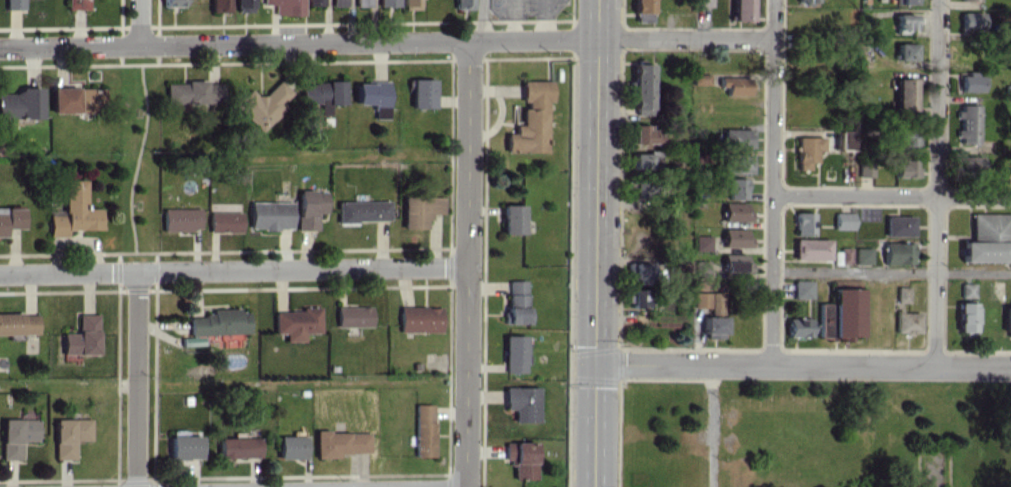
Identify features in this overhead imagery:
building: (970, 0)
building: (805, 1)
building: (905, 1)
building: (315, 2)
building: (339, 2)
building: (362, 2)
building: (173, 3)
building: (388, 3)
building: (703, 3)
building: (14, 4)
building: (77, 4)
building: (410, 4)
building: (463, 4)
building: (243, 5)
building: (220, 6)
building: (287, 6)
building: (642, 6)
building: (741, 10)
road: (481, 20)
building: (971, 20)
building: (904, 21)
road: (139, 23)
road: (686, 38)
road: (299, 43)
building: (905, 51)
building: (701, 79)
building: (970, 82)
building: (735, 85)
building: (642, 89)
building: (194, 92)
building: (422, 93)
building: (322, 94)
building: (904, 94)
building: (373, 96)
building: (76, 99)
building: (20, 104)
building: (263, 104)
building: (530, 119)
building: (967, 123)
building: (643, 134)
road: (772, 135)
building: (904, 136)
building: (737, 138)
building: (844, 139)
building: (807, 150)
road: (137, 158)
building: (645, 160)
building: (738, 163)
building: (971, 164)
building: (865, 168)
building: (905, 168)
road: (936, 182)
building: (736, 188)
road: (891, 195)
building: (310, 208)
building: (419, 210)
building: (74, 211)
building: (362, 211)
building: (735, 212)
building: (270, 215)
building: (10, 219)
building: (181, 219)
building: (511, 219)
building: (843, 220)
building: (224, 221)
building: (804, 223)
building: (899, 225)
building: (990, 225)
building: (735, 238)
road: (597, 243)
building: (702, 243)
building: (811, 249)
building: (984, 251)
building: (898, 253)
building: (845, 255)
building: (863, 255)
road: (466, 263)
building: (735, 263)
road: (232, 269)
building: (640, 271)
road: (891, 272)
building: (802, 289)
building: (902, 294)
building: (705, 300)
building: (516, 302)
building: (840, 314)
building: (353, 316)
road: (771, 318)
building: (419, 319)
building: (966, 319)
building: (1007, 319)
building: (295, 322)
building: (907, 322)
building: (18, 323)
building: (215, 325)
building: (713, 327)
building: (798, 327)
building: (82, 336)
building: (514, 353)
traffic signals: (596, 364)
road: (803, 365)
road: (137, 379)
road: (232, 383)
building: (522, 403)
road: (707, 426)
building: (423, 430)
building: (16, 436)
building: (69, 436)
building: (340, 443)
building: (184, 447)
building: (239, 447)
building: (291, 447)
building: (521, 459)

